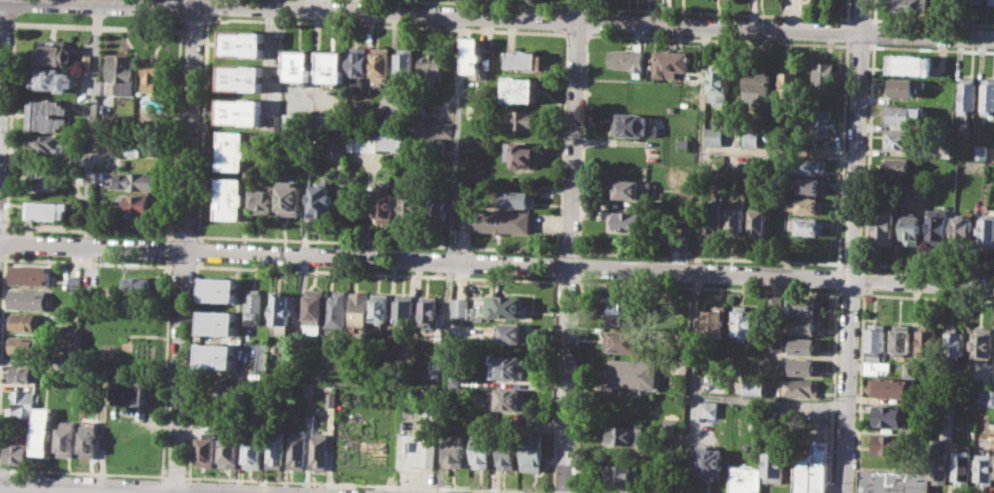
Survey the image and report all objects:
road: (156, 1)
road: (191, 1)
building: (977, 1)
building: (990, 1)
road: (500, 3)
building: (910, 5)
road: (579, 6)
road: (847, 10)
road: (0, 11)
road: (720, 11)
road: (874, 11)
road: (862, 17)
road: (592, 20)
road: (932, 21)
road: (95, 25)
road: (846, 29)
road: (873, 31)
building: (243, 43)
building: (54, 52)
road: (271, 52)
building: (473, 54)
building: (628, 58)
building: (525, 59)
building: (86, 61)
building: (670, 62)
building: (380, 63)
building: (909, 64)
building: (405, 65)
building: (298, 66)
building: (358, 66)
building: (431, 66)
building: (331, 67)
building: (120, 72)
building: (152, 74)
building: (824, 75)
building: (242, 78)
building: (55, 79)
building: (721, 83)
building: (790, 85)
building: (757, 86)
building: (904, 86)
building: (521, 89)
building: (967, 92)
building: (987, 95)
building: (240, 111)
building: (905, 114)
building: (48, 115)
building: (524, 118)
building: (106, 121)
building: (322, 121)
building: (823, 121)
road: (93, 122)
building: (635, 124)
building: (386, 126)
building: (432, 128)
building: (715, 135)
road: (456, 137)
building: (751, 137)
building: (901, 139)
building: (372, 141)
building: (685, 142)
building: (48, 145)
building: (143, 146)
building: (435, 146)
building: (233, 149)
road: (779, 150)
building: (979, 150)
building: (942, 151)
road: (840, 153)
building: (521, 154)
road: (868, 154)
building: (808, 165)
building: (896, 165)
building: (740, 169)
building: (757, 169)
building: (80, 175)
building: (47, 179)
building: (138, 180)
building: (812, 185)
building: (922, 188)
building: (631, 189)
building: (290, 197)
building: (230, 198)
building: (520, 199)
building: (262, 200)
building: (322, 200)
building: (143, 204)
building: (806, 204)
building: (385, 206)
building: (46, 209)
building: (411, 211)
building: (437, 211)
road: (698, 211)
building: (712, 217)
building: (759, 220)
building: (501, 221)
building: (628, 221)
building: (735, 222)
building: (884, 225)
building: (937, 225)
building: (811, 226)
building: (911, 229)
building: (963, 231)
building: (987, 232)
road: (570, 246)
road: (853, 246)
road: (497, 247)
building: (802, 247)
road: (184, 248)
road: (497, 262)
building: (30, 274)
road: (836, 277)
road: (497, 278)
road: (863, 279)
building: (75, 281)
building: (141, 286)
building: (219, 289)
building: (27, 298)
building: (253, 305)
building: (507, 306)
building: (803, 306)
building: (360, 308)
building: (380, 308)
building: (461, 308)
building: (621, 308)
building: (284, 309)
building: (315, 310)
building: (337, 310)
building: (404, 310)
building: (429, 311)
building: (715, 320)
building: (25, 322)
building: (217, 322)
building: (745, 322)
building: (804, 325)
building: (71, 330)
building: (514, 332)
building: (901, 339)
building: (625, 340)
building: (956, 341)
building: (928, 342)
building: (26, 343)
building: (983, 344)
building: (69, 345)
building: (804, 345)
building: (877, 346)
building: (217, 355)
building: (510, 366)
building: (804, 366)
building: (910, 367)
building: (435, 370)
building: (22, 373)
building: (633, 373)
building: (455, 376)
building: (755, 386)
building: (889, 386)
building: (798, 387)
building: (232, 389)
building: (308, 389)
road: (831, 389)
road: (858, 390)
building: (132, 393)
building: (987, 396)
road: (721, 397)
building: (511, 398)
building: (330, 399)
building: (23, 404)
building: (710, 409)
building: (889, 416)
building: (43, 431)
building: (624, 434)
building: (67, 439)
building: (90, 439)
building: (889, 444)
building: (206, 446)
building: (483, 446)
building: (275, 449)
building: (296, 449)
building: (508, 449)
building: (454, 450)
building: (318, 451)
building: (415, 451)
building: (229, 452)
building: (533, 452)
building: (17, 453)
building: (253, 453)
building: (708, 462)
building: (775, 466)
building: (818, 466)
building: (942, 467)
building: (964, 467)
building: (985, 469)
building: (801, 472)
building: (626, 477)
building: (745, 478)
building: (894, 482)
road: (43, 491)

